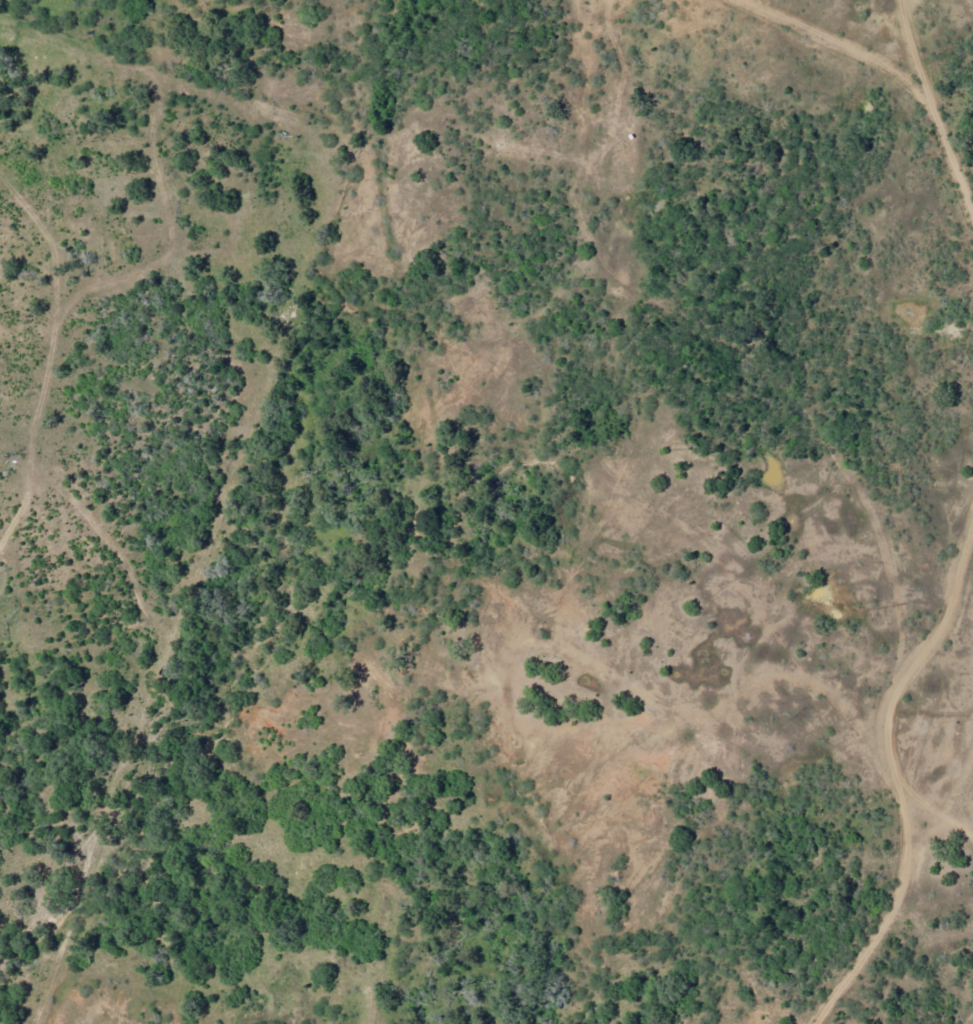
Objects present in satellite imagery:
road: (862, 536)

